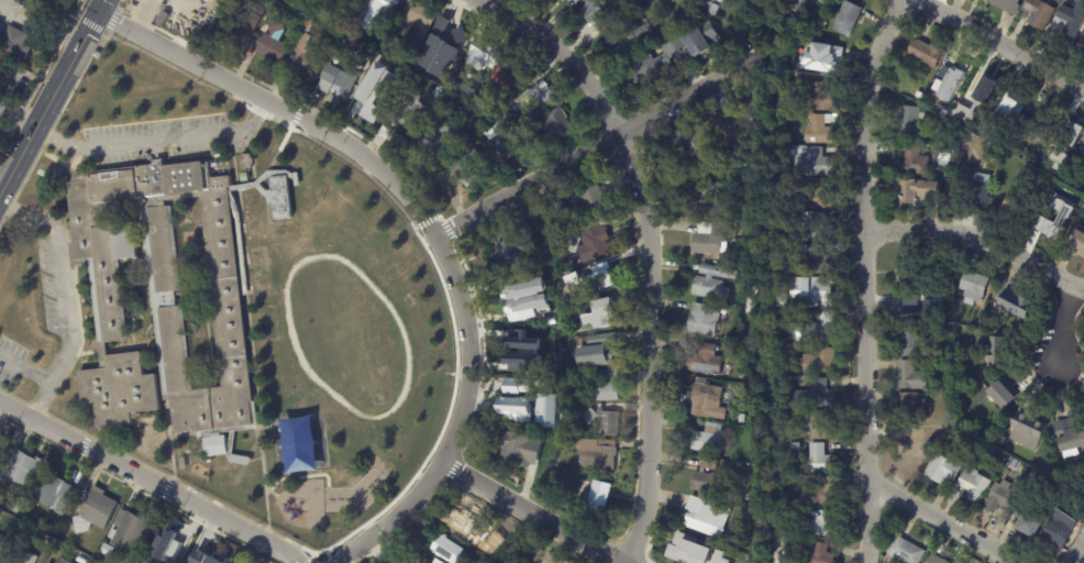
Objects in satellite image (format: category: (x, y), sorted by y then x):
building: (279, 0)
building: (355, 0)
building: (984, 0)
building: (986, 0)
building: (58, 1)
building: (573, 3)
building: (803, 3)
building: (1074, 3)
building: (1005, 5)
building: (711, 7)
building: (602, 8)
traffic signals: (95, 11)
building: (376, 12)
building: (1035, 13)
building: (449, 16)
building: (849, 19)
building: (244, 22)
building: (335, 22)
building: (418, 24)
building: (825, 24)
building: (1065, 27)
road: (37, 30)
building: (0, 32)
building: (628, 35)
building: (340, 36)
building: (451, 40)
building: (1080, 42)
building: (15, 43)
road: (1002, 43)
building: (275, 44)
building: (372, 53)
building: (922, 53)
building: (98, 54)
building: (308, 55)
road: (562, 55)
building: (484, 56)
building: (675, 56)
building: (827, 60)
building: (510, 63)
building: (2, 64)
building: (398, 68)
building: (522, 70)
building: (953, 74)
building: (444, 76)
building: (342, 79)
building: (464, 81)
building: (506, 84)
building: (980, 85)
building: (25, 86)
building: (439, 95)
road: (48, 96)
building: (376, 97)
building: (826, 98)
building: (538, 100)
building: (920, 103)
building: (728, 106)
building: (1010, 106)
building: (412, 110)
road: (18, 111)
building: (495, 112)
building: (506, 119)
building: (1038, 120)
building: (907, 121)
building: (473, 124)
building: (555, 125)
building: (822, 129)
building: (496, 132)
building: (1068, 132)
parking lot: (156, 140)
building: (441, 142)
road: (154, 143)
building: (700, 143)
building: (1083, 143)
road: (599, 145)
building: (792, 148)
building: (246, 161)
building: (911, 162)
building: (816, 163)
building: (1079, 163)
building: (468, 166)
building: (244, 177)
building: (474, 181)
building: (975, 189)
building: (818, 192)
building: (915, 192)
building: (706, 195)
building: (279, 197)
building: (1080, 198)
building: (590, 200)
building: (1009, 207)
road: (429, 223)
building: (1048, 225)
building: (819, 228)
building: (710, 236)
road: (974, 236)
building: (1075, 242)
building: (596, 244)
building: (516, 251)
building: (550, 258)
building: (818, 260)
building: (542, 262)
building: (571, 263)
building: (259, 268)
building: (794, 268)
road: (863, 277)
building: (170, 278)
building: (605, 278)
building: (903, 278)
building: (714, 283)
building: (971, 286)
parking lot: (45, 288)
building: (817, 292)
road: (1076, 292)
building: (521, 294)
road: (65, 299)
building: (568, 300)
building: (784, 300)
building: (1011, 305)
building: (906, 311)
building: (608, 314)
building: (706, 319)
building: (812, 328)
road: (1063, 329)
building: (545, 330)
building: (556, 331)
building: (729, 340)
building: (950, 341)
building: (577, 344)
building: (909, 344)
road: (646, 347)
building: (529, 349)
building: (992, 352)
building: (600, 356)
parking lot: (9, 361)
building: (708, 361)
building: (820, 362)
road: (24, 372)
building: (605, 375)
building: (907, 376)
building: (516, 385)
building: (118, 389)
building: (607, 391)
building: (530, 393)
building: (998, 394)
building: (818, 395)
building: (705, 400)
building: (545, 402)
building: (908, 406)
building: (518, 416)
building: (557, 417)
building: (535, 418)
building: (605, 421)
building: (817, 424)
building: (557, 427)
building: (1025, 430)
building: (795, 434)
building: (1068, 434)
building: (710, 439)
building: (567, 443)
building: (907, 444)
building: (214, 445)
building: (798, 446)
building: (521, 449)
building: (985, 451)
building: (598, 454)
building: (822, 459)
building: (1011, 464)
building: (938, 470)
building: (19, 473)
building: (712, 482)
road: (151, 483)
building: (971, 485)
building: (823, 493)
building: (57, 494)
building: (601, 496)
building: (752, 496)
building: (996, 498)
building: (18, 507)
building: (96, 512)
road: (527, 514)
building: (711, 519)
road: (943, 521)
building: (1022, 521)
building: (468, 522)
building: (41, 523)
building: (825, 526)
building: (512, 527)
building: (130, 531)
building: (1053, 532)
building: (533, 537)
building: (504, 548)
building: (167, 549)
building: (449, 549)
building: (692, 551)
building: (902, 552)
building: (799, 553)
building: (823, 553)
building: (5, 555)
building: (539, 555)
building: (210, 556)
building: (27, 558)
building: (722, 558)
building: (408, 559)
building: (81, 560)
building: (555, 560)
building: (932, 560)
building: (64, 561)
building: (435, 561)
building: (440, 561)
building: (45, 562)
building: (143, 562)
building: (390, 562)

